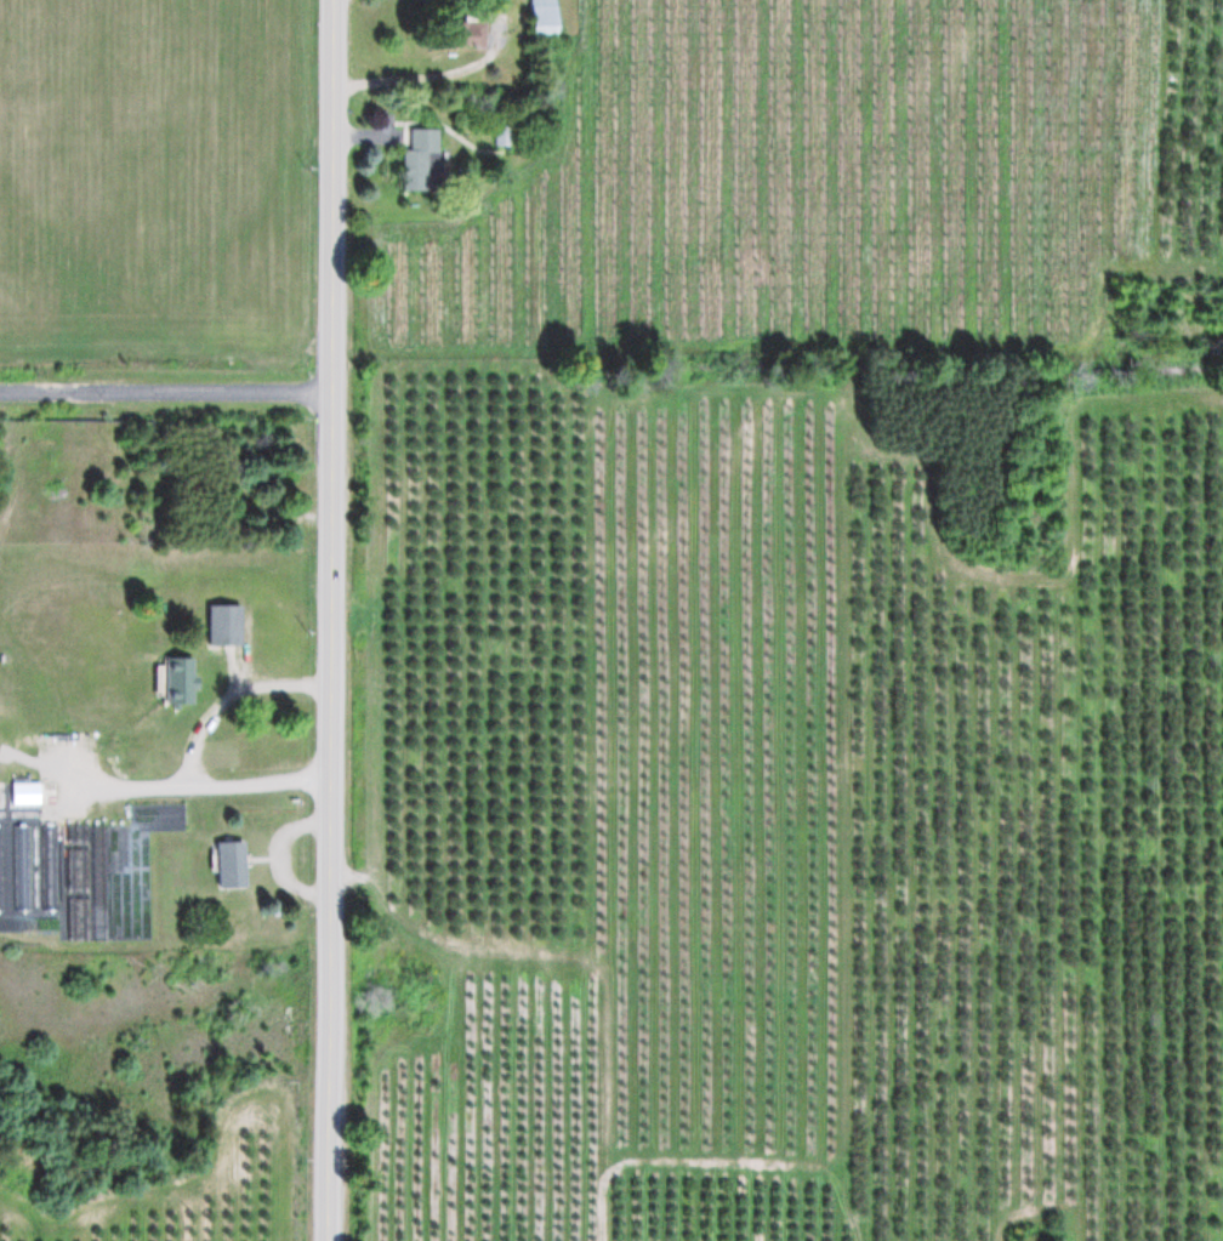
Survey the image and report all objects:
building: (545, 15)
building: (422, 159)
road: (165, 392)
road: (328, 620)
building: (226, 625)
building: (172, 681)
parking lot: (64, 774)
road: (206, 785)
building: (25, 790)
building: (231, 864)
building: (19, 865)
building: (50, 866)
building: (2, 867)
building: (80, 870)

